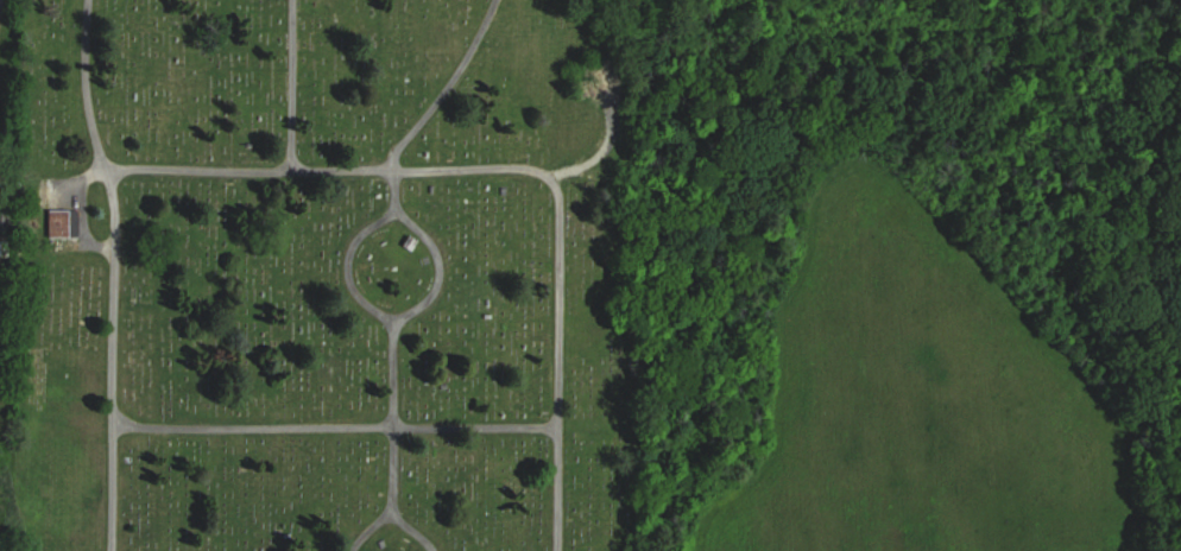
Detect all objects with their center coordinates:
road: (89, 87)
road: (285, 175)
road: (554, 180)
road: (114, 211)
road: (83, 216)
building: (65, 221)
park: (311, 278)
road: (110, 401)

